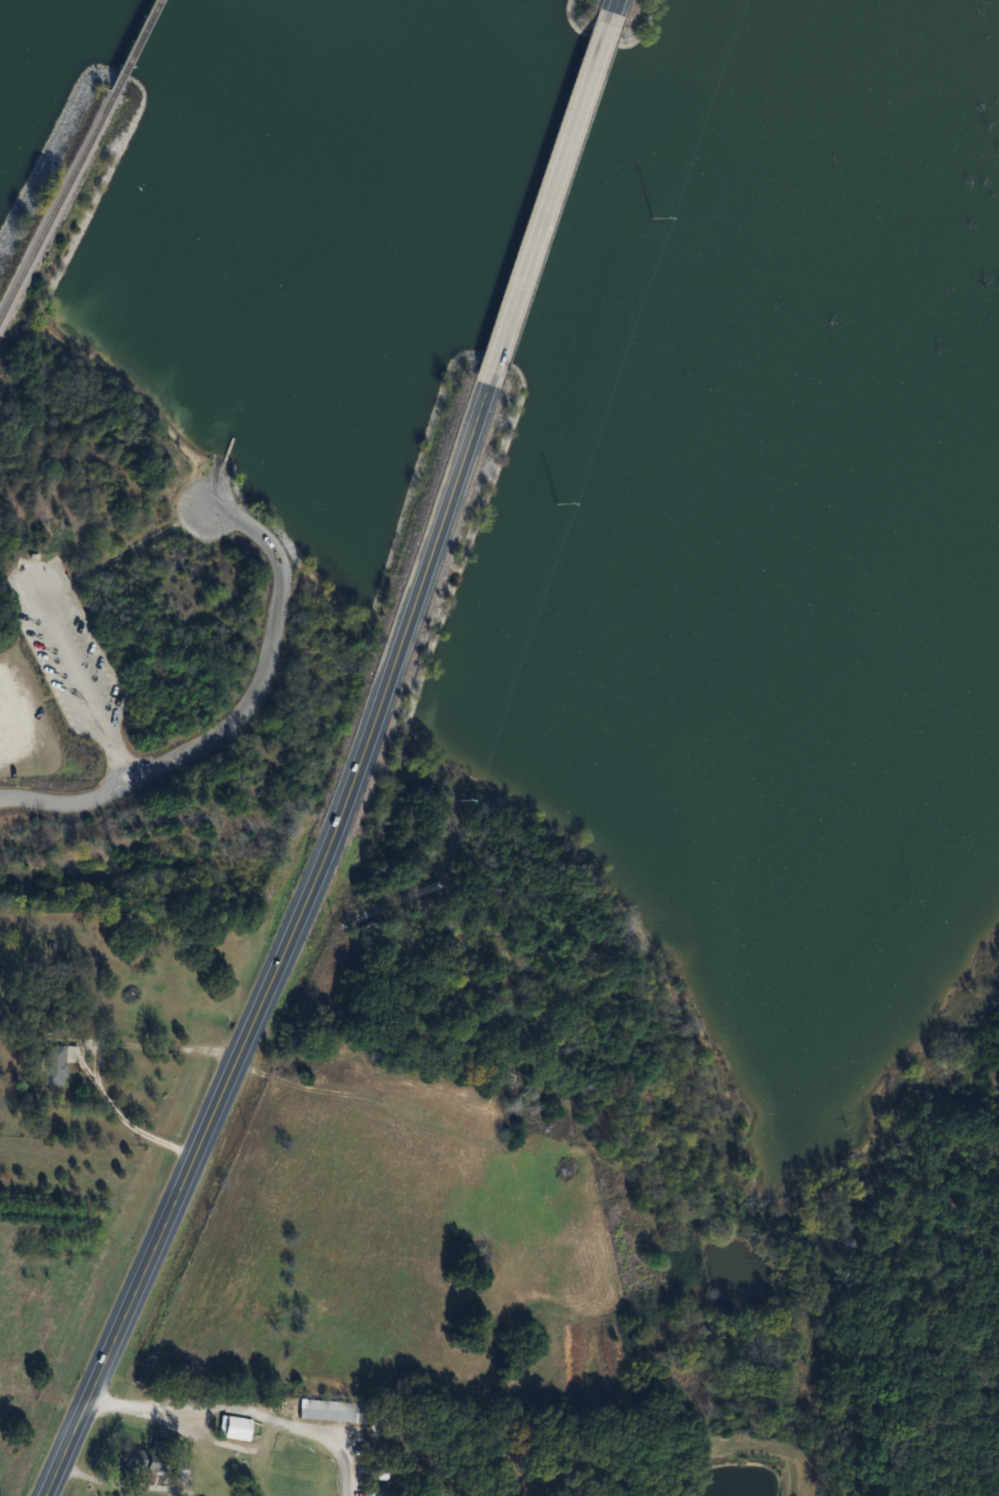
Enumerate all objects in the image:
road: (611, 8)
railway: (132, 43)
railway: (55, 197)
road: (549, 197)
road: (235, 714)
road: (285, 943)
road: (99, 1060)
building: (57, 1063)
road: (243, 1408)
building: (238, 1428)
building: (137, 1459)

